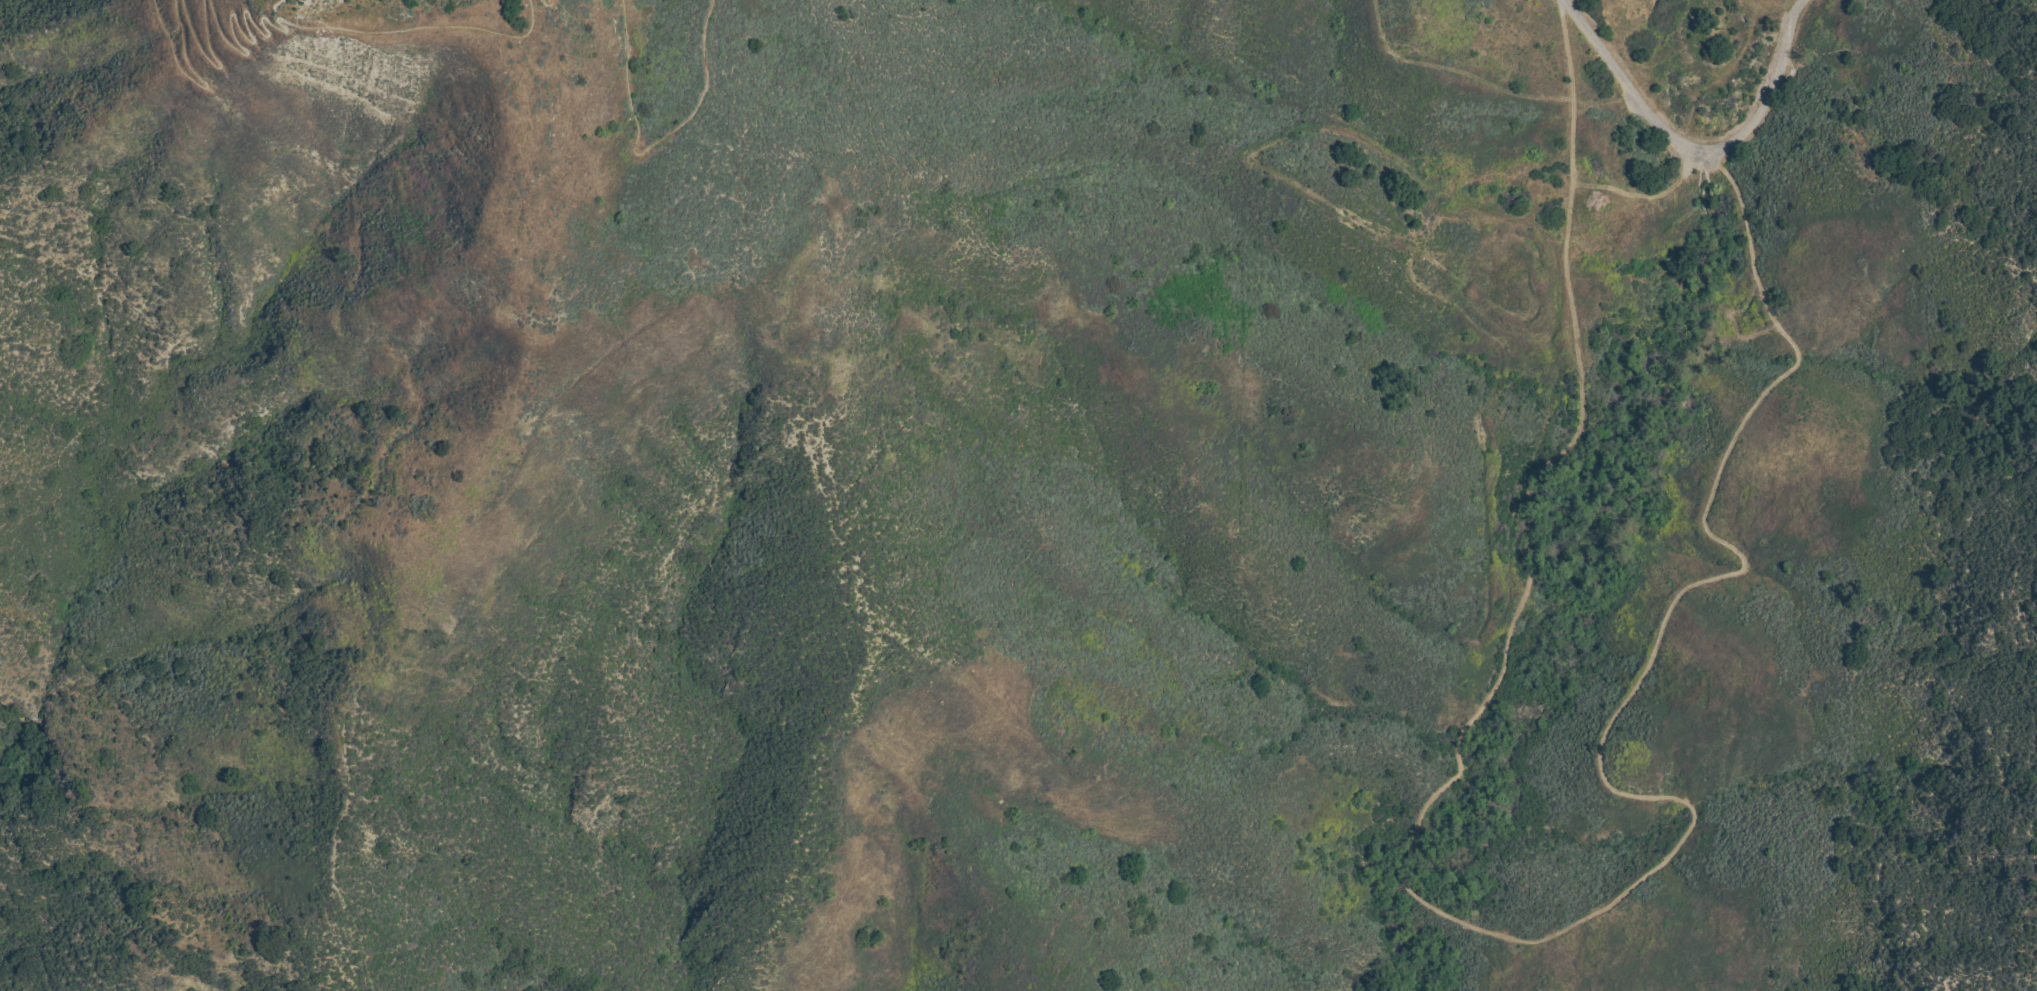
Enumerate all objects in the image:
road: (549, 6)
road: (278, 17)
road: (217, 65)
road: (624, 78)
road: (203, 87)
road: (703, 93)
road: (1694, 151)

